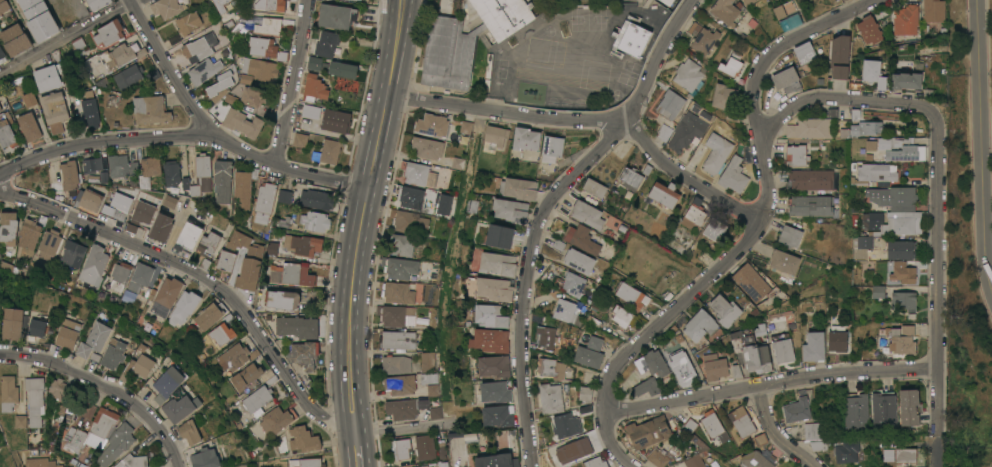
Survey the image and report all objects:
building: (292, 0)
building: (667, 2)
building: (747, 2)
building: (96, 4)
building: (224, 5)
building: (275, 5)
building: (3, 6)
building: (166, 8)
building: (933, 10)
building: (725, 11)
building: (368, 14)
building: (504, 15)
building: (786, 15)
building: (335, 16)
building: (38, 19)
building: (245, 19)
building: (905, 19)
building: (187, 23)
building: (228, 24)
building: (268, 26)
building: (237, 27)
building: (244, 29)
building: (869, 30)
building: (108, 33)
road: (68, 37)
building: (631, 38)
building: (704, 39)
road: (979, 39)
building: (14, 40)
building: (77, 43)
building: (326, 44)
building: (198, 48)
building: (266, 49)
building: (448, 52)
building: (805, 52)
building: (839, 55)
building: (2, 56)
building: (120, 56)
road: (655, 61)
building: (316, 64)
building: (731, 64)
road: (167, 67)
building: (206, 68)
building: (259, 69)
building: (342, 70)
building: (873, 72)
building: (688, 75)
building: (126, 77)
building: (46, 78)
building: (786, 79)
building: (244, 80)
building: (906, 80)
building: (100, 82)
road: (292, 83)
building: (218, 87)
building: (313, 89)
building: (250, 96)
building: (28, 99)
road: (839, 99)
building: (111, 100)
building: (726, 101)
building: (666, 103)
building: (53, 108)
building: (0, 110)
building: (150, 110)
building: (310, 112)
road: (505, 113)
building: (89, 114)
building: (335, 121)
building: (241, 123)
building: (432, 124)
building: (28, 127)
building: (465, 127)
building: (811, 128)
building: (865, 128)
building: (664, 132)
building: (689, 133)
building: (6, 135)
road: (186, 136)
building: (495, 136)
building: (525, 138)
building: (299, 141)
building: (869, 145)
building: (427, 147)
building: (551, 148)
building: (900, 148)
building: (326, 152)
building: (716, 153)
building: (796, 155)
building: (457, 162)
building: (91, 165)
building: (120, 166)
building: (149, 167)
building: (416, 172)
building: (170, 173)
building: (874, 174)
building: (733, 175)
building: (198, 176)
building: (630, 177)
building: (104, 178)
road: (687, 178)
building: (66, 179)
building: (810, 179)
building: (222, 181)
road: (983, 184)
building: (595, 187)
building: (519, 188)
building: (241, 190)
building: (664, 193)
building: (265, 194)
building: (874, 194)
building: (409, 196)
building: (283, 197)
building: (900, 198)
building: (315, 199)
building: (88, 201)
building: (443, 203)
road: (765, 204)
building: (167, 205)
building: (472, 205)
building: (810, 205)
building: (116, 206)
building: (510, 209)
road: (363, 214)
building: (587, 214)
building: (693, 215)
building: (139, 216)
building: (873, 220)
building: (314, 221)
building: (408, 221)
building: (904, 225)
building: (7, 226)
building: (160, 228)
building: (715, 229)
building: (28, 234)
building: (790, 235)
building: (499, 236)
building: (187, 238)
building: (581, 238)
building: (865, 241)
building: (400, 243)
building: (207, 244)
building: (300, 244)
building: (47, 245)
building: (900, 249)
building: (71, 254)
building: (246, 260)
building: (578, 260)
building: (224, 261)
building: (784, 261)
building: (498, 263)
building: (93, 266)
building: (399, 267)
building: (9, 268)
building: (903, 272)
building: (290, 274)
building: (118, 275)
building: (139, 277)
road: (202, 278)
road: (526, 279)
building: (751, 282)
building: (573, 283)
building: (494, 288)
road: (935, 290)
building: (878, 291)
building: (396, 292)
building: (631, 296)
building: (164, 297)
building: (281, 300)
building: (903, 300)
building: (183, 308)
building: (565, 310)
building: (725, 310)
building: (395, 315)
building: (490, 315)
building: (207, 316)
building: (622, 316)
building: (11, 324)
building: (699, 325)
building: (296, 327)
building: (36, 328)
building: (66, 334)
building: (221, 334)
building: (546, 336)
building: (837, 338)
building: (396, 339)
building: (93, 340)
building: (490, 340)
building: (896, 341)
building: (594, 342)
building: (813, 346)
building: (782, 347)
building: (751, 352)
building: (112, 354)
building: (303, 354)
building: (588, 356)
building: (233, 357)
building: (427, 361)
building: (656, 362)
building: (395, 364)
building: (494, 366)
building: (714, 366)
building: (137, 368)
building: (551, 368)
building: (683, 368)
building: (246, 378)
building: (428, 378)
building: (304, 379)
building: (166, 384)
building: (399, 384)
road: (769, 384)
building: (56, 387)
road: (104, 387)
building: (645, 387)
building: (433, 389)
building: (496, 391)
building: (585, 393)
building: (551, 398)
building: (35, 399)
building: (256, 399)
building: (12, 400)
building: (179, 406)
building: (908, 406)
building: (410, 408)
building: (796, 409)
building: (883, 409)
building: (856, 411)
building: (59, 412)
building: (498, 415)
building: (276, 420)
building: (741, 421)
building: (566, 425)
building: (714, 426)
road: (403, 430)
building: (816, 430)
building: (92, 431)
building: (648, 431)
building: (188, 432)
road: (773, 433)
building: (470, 438)
building: (302, 439)
building: (761, 439)
building: (501, 441)
road: (613, 443)
building: (116, 444)
building: (424, 446)
building: (401, 448)
building: (887, 448)
road: (357, 449)
building: (572, 451)
building: (847, 451)
building: (905, 455)
building: (201, 457)
building: (133, 458)
building: (658, 458)
building: (497, 460)
building: (755, 460)
building: (694, 461)
building: (42, 462)
building: (594, 462)
building: (305, 463)
building: (459, 465)
building: (424, 466)
building: (569, 466)
building: (707, 466)

